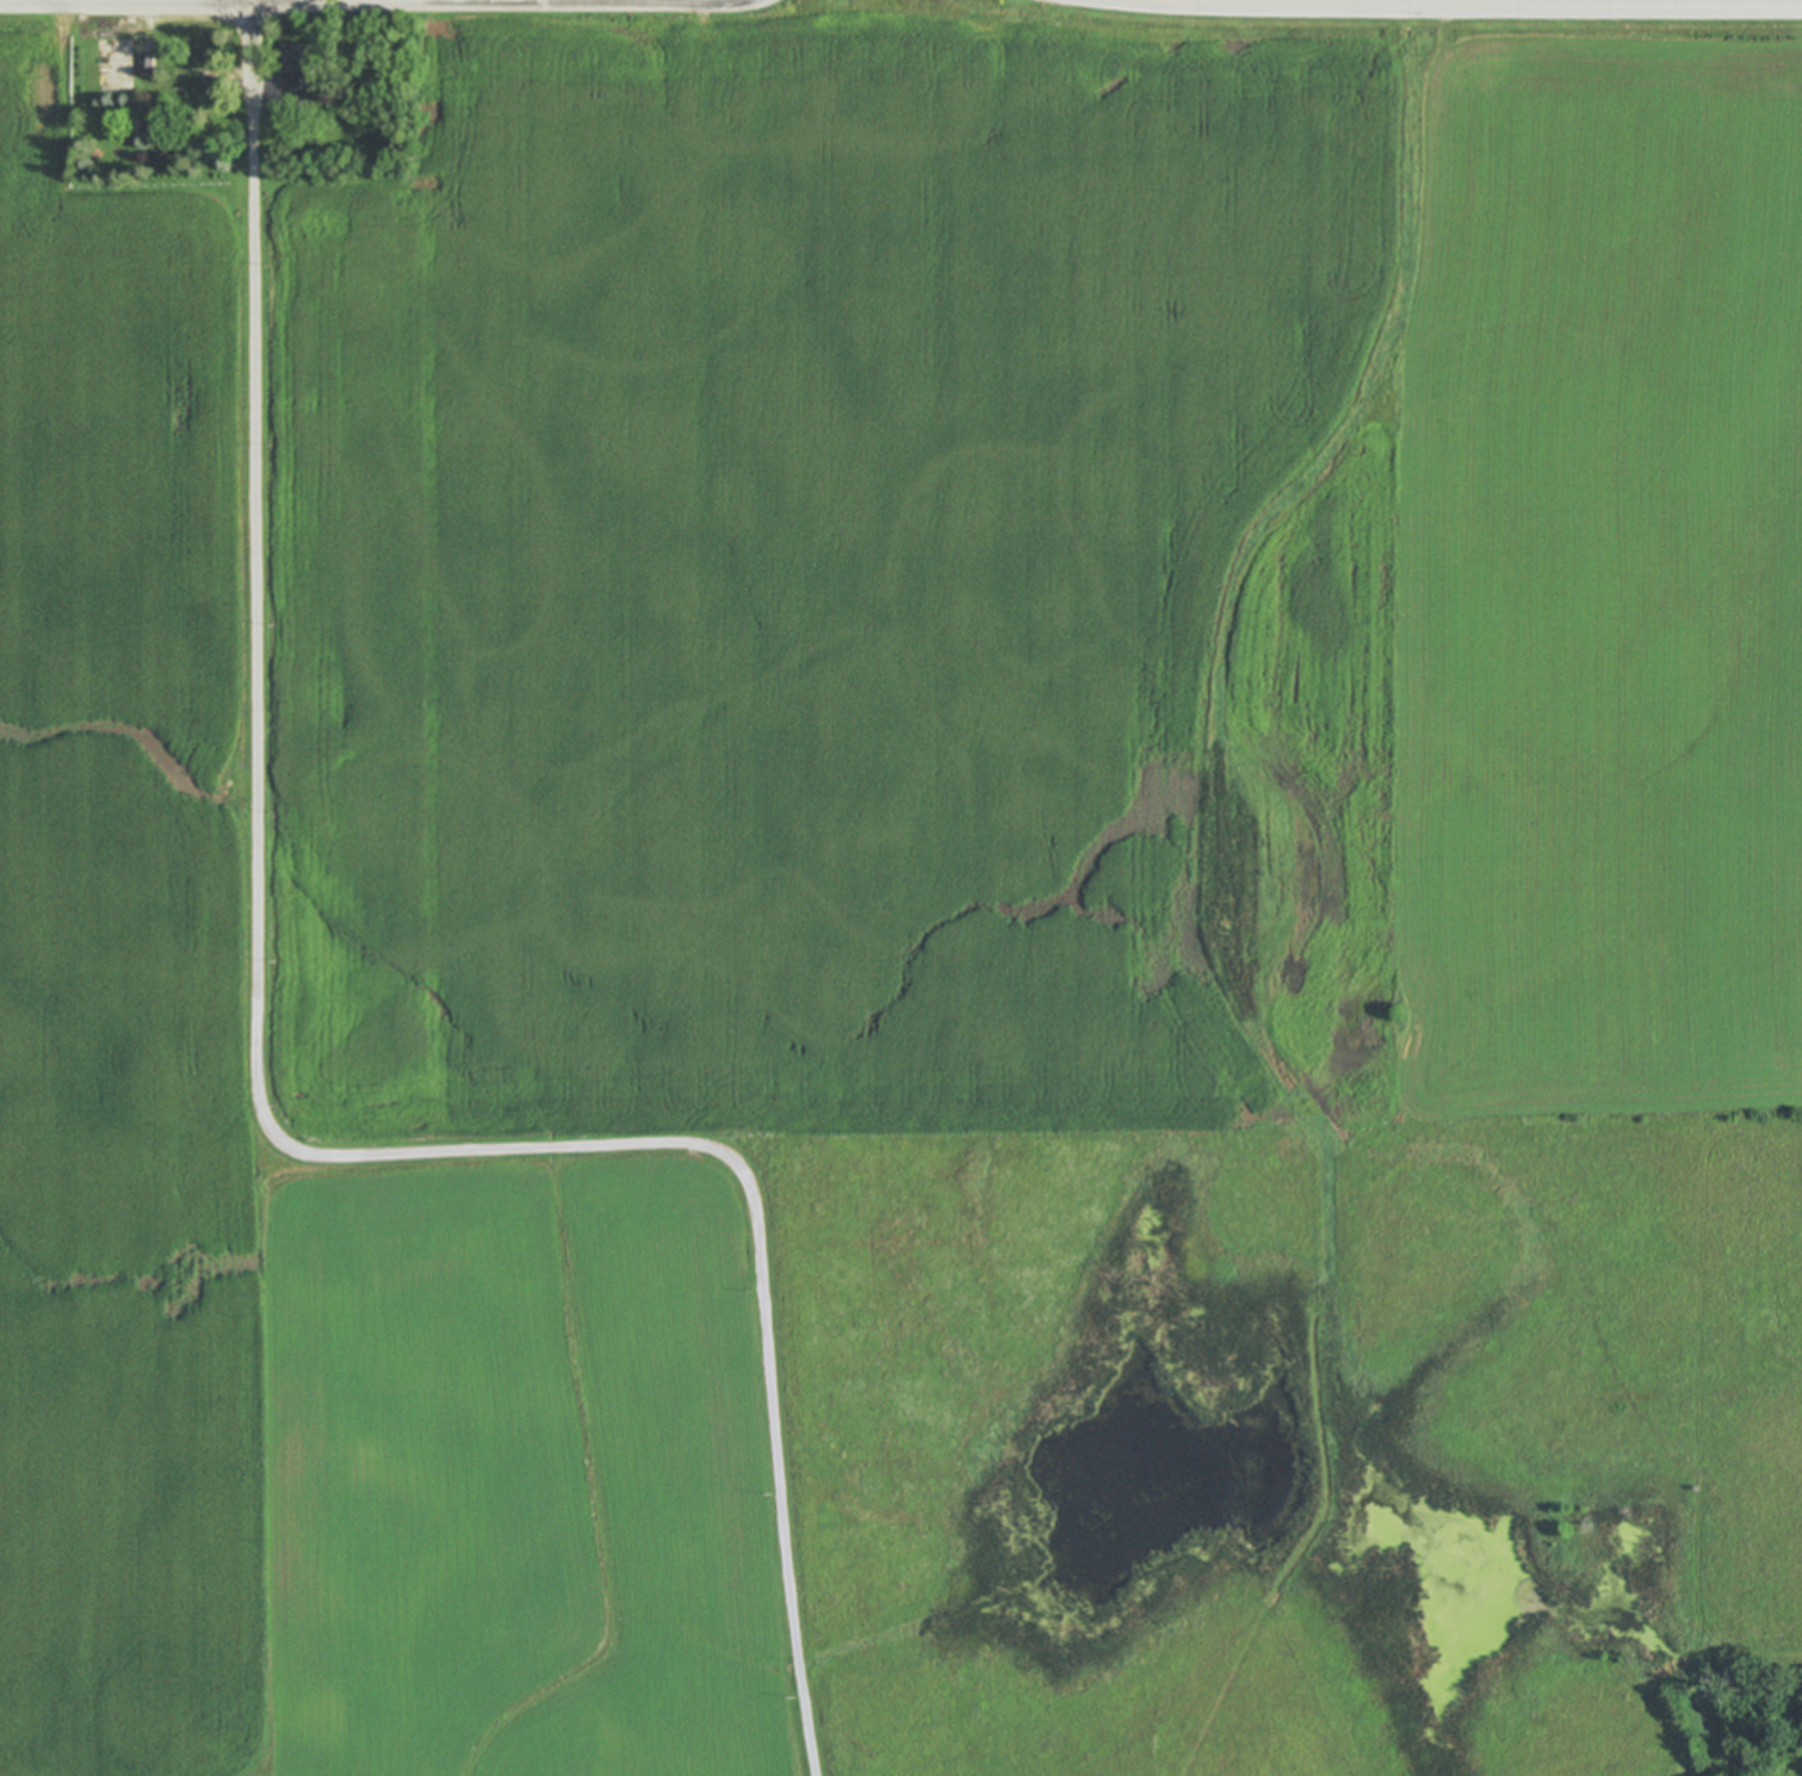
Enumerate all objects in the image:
road: (1490, 4)
building: (148, 64)
building: (216, 83)
building: (151, 125)
road: (254, 586)
road: (762, 1249)

